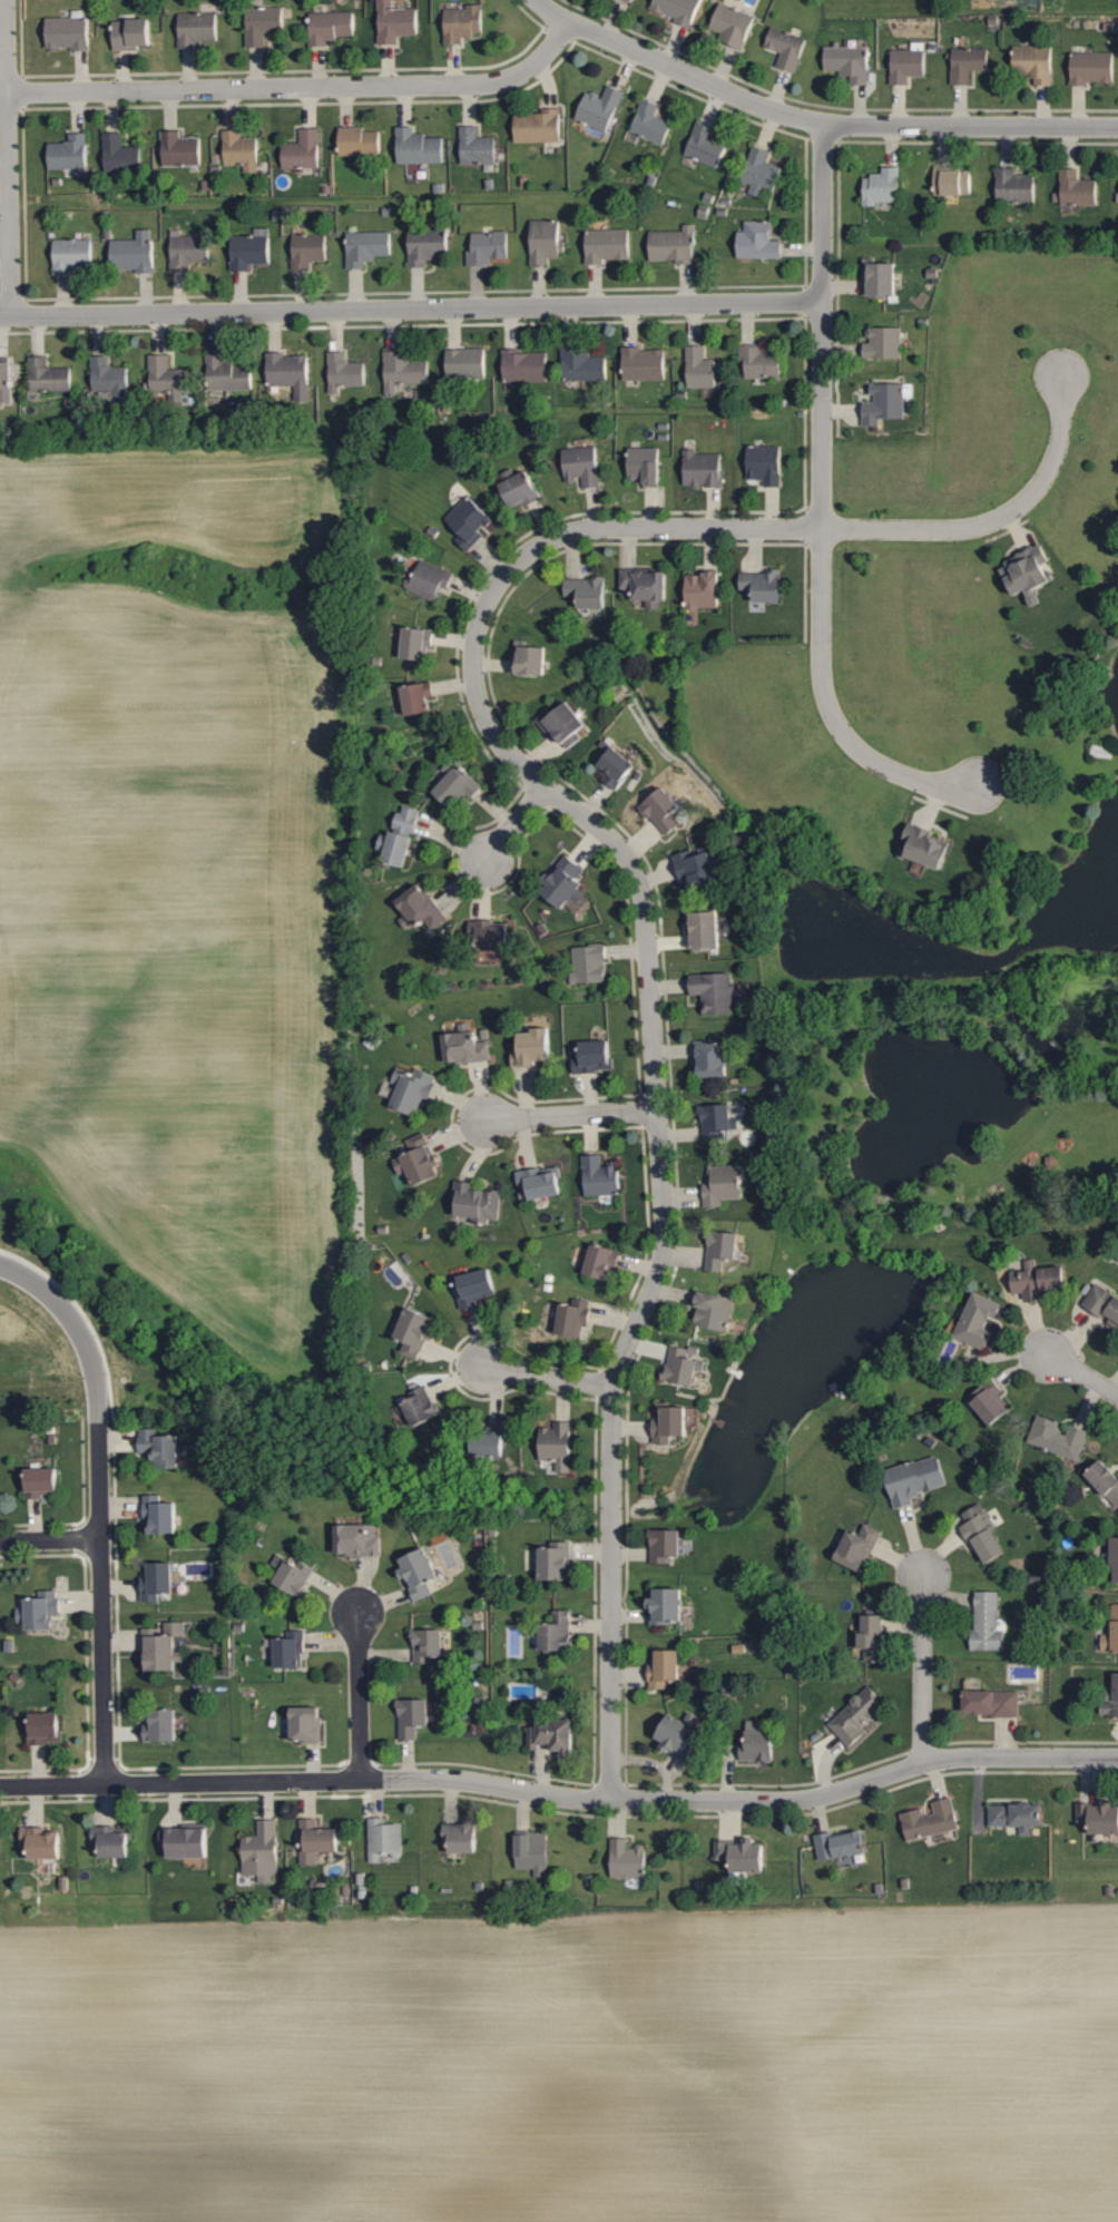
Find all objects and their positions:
building: (630, 0)
building: (677, 9)
building: (395, 21)
building: (462, 22)
building: (263, 23)
building: (733, 25)
building: (332, 26)
building: (197, 28)
building: (68, 32)
building: (131, 33)
building: (786, 47)
building: (849, 61)
building: (969, 62)
building: (1037, 62)
building: (908, 65)
building: (1092, 67)
road: (300, 88)
building: (601, 107)
road: (813, 121)
building: (651, 123)
building: (539, 126)
building: (360, 140)
building: (706, 145)
building: (477, 146)
building: (419, 147)
building: (180, 149)
building: (241, 150)
building: (303, 150)
building: (70, 154)
building: (120, 154)
road: (9, 158)
building: (762, 172)
building: (954, 180)
building: (1014, 185)
building: (884, 186)
building: (1078, 188)
building: (546, 241)
building: (759, 241)
building: (608, 244)
building: (428, 245)
building: (675, 245)
building: (367, 246)
building: (488, 247)
building: (308, 249)
building: (188, 251)
building: (249, 251)
building: (134, 252)
building: (72, 254)
building: (880, 278)
road: (411, 310)
building: (884, 343)
building: (761, 362)
building: (467, 363)
building: (645, 363)
building: (582, 364)
building: (526, 365)
building: (700, 369)
building: (404, 371)
building: (345, 372)
building: (291, 373)
building: (227, 374)
building: (49, 375)
building: (167, 378)
building: (110, 379)
building: (6, 381)
building: (885, 403)
building: (646, 464)
building: (765, 464)
building: (582, 466)
building: (703, 469)
building: (523, 489)
road: (823, 510)
building: (471, 517)
building: (1029, 574)
building: (429, 579)
road: (153, 581)
building: (645, 585)
building: (762, 585)
building: (704, 590)
building: (588, 591)
building: (418, 643)
building: (533, 662)
building: (419, 698)
building: (562, 723)
road: (88, 756)
building: (612, 762)
building: (462, 786)
building: (669, 807)
road: (518, 822)
road: (599, 830)
building: (406, 834)
building: (928, 845)
building: (702, 865)
building: (566, 879)
building: (423, 910)
building: (703, 929)
building: (489, 933)
building: (588, 962)
building: (714, 990)
building: (464, 1046)
building: (532, 1047)
building: (591, 1056)
building: (710, 1058)
building: (411, 1087)
road: (572, 1116)
building: (714, 1119)
building: (418, 1159)
building: (599, 1176)
building: (539, 1182)
building: (722, 1184)
building: (477, 1202)
building: (720, 1249)
building: (601, 1261)
building: (1036, 1279)
building: (475, 1282)
road: (37, 1284)
building: (1102, 1301)
building: (469, 1302)
building: (713, 1310)
building: (572, 1316)
building: (978, 1319)
building: (413, 1331)
building: (679, 1364)
road: (1083, 1374)
road: (549, 1377)
building: (990, 1401)
building: (421, 1407)
building: (669, 1422)
building: (1058, 1437)
building: (489, 1441)
building: (557, 1445)
building: (159, 1447)
building: (914, 1479)
building: (41, 1480)
building: (1105, 1480)
building: (158, 1514)
building: (981, 1531)
building: (357, 1539)
road: (50, 1541)
building: (665, 1544)
road: (100, 1547)
building: (857, 1547)
building: (1114, 1558)
building: (555, 1562)
building: (418, 1573)
building: (293, 1576)
building: (157, 1580)
building: (666, 1605)
building: (41, 1609)
building: (987, 1622)
building: (556, 1632)
building: (1111, 1632)
building: (872, 1636)
building: (426, 1644)
building: (161, 1645)
building: (288, 1650)
building: (663, 1667)
road: (923, 1670)
road: (360, 1697)
building: (1111, 1701)
building: (991, 1702)
building: (856, 1715)
building: (411, 1716)
building: (305, 1724)
building: (160, 1725)
building: (45, 1727)
building: (675, 1733)
building: (757, 1745)
road: (560, 1798)
building: (1014, 1814)
building: (1099, 1815)
building: (930, 1820)
building: (460, 1837)
building: (383, 1838)
building: (111, 1839)
building: (315, 1839)
building: (184, 1840)
building: (40, 1842)
building: (840, 1843)
building: (261, 1849)
building: (531, 1851)
building: (741, 1853)
building: (627, 1858)

